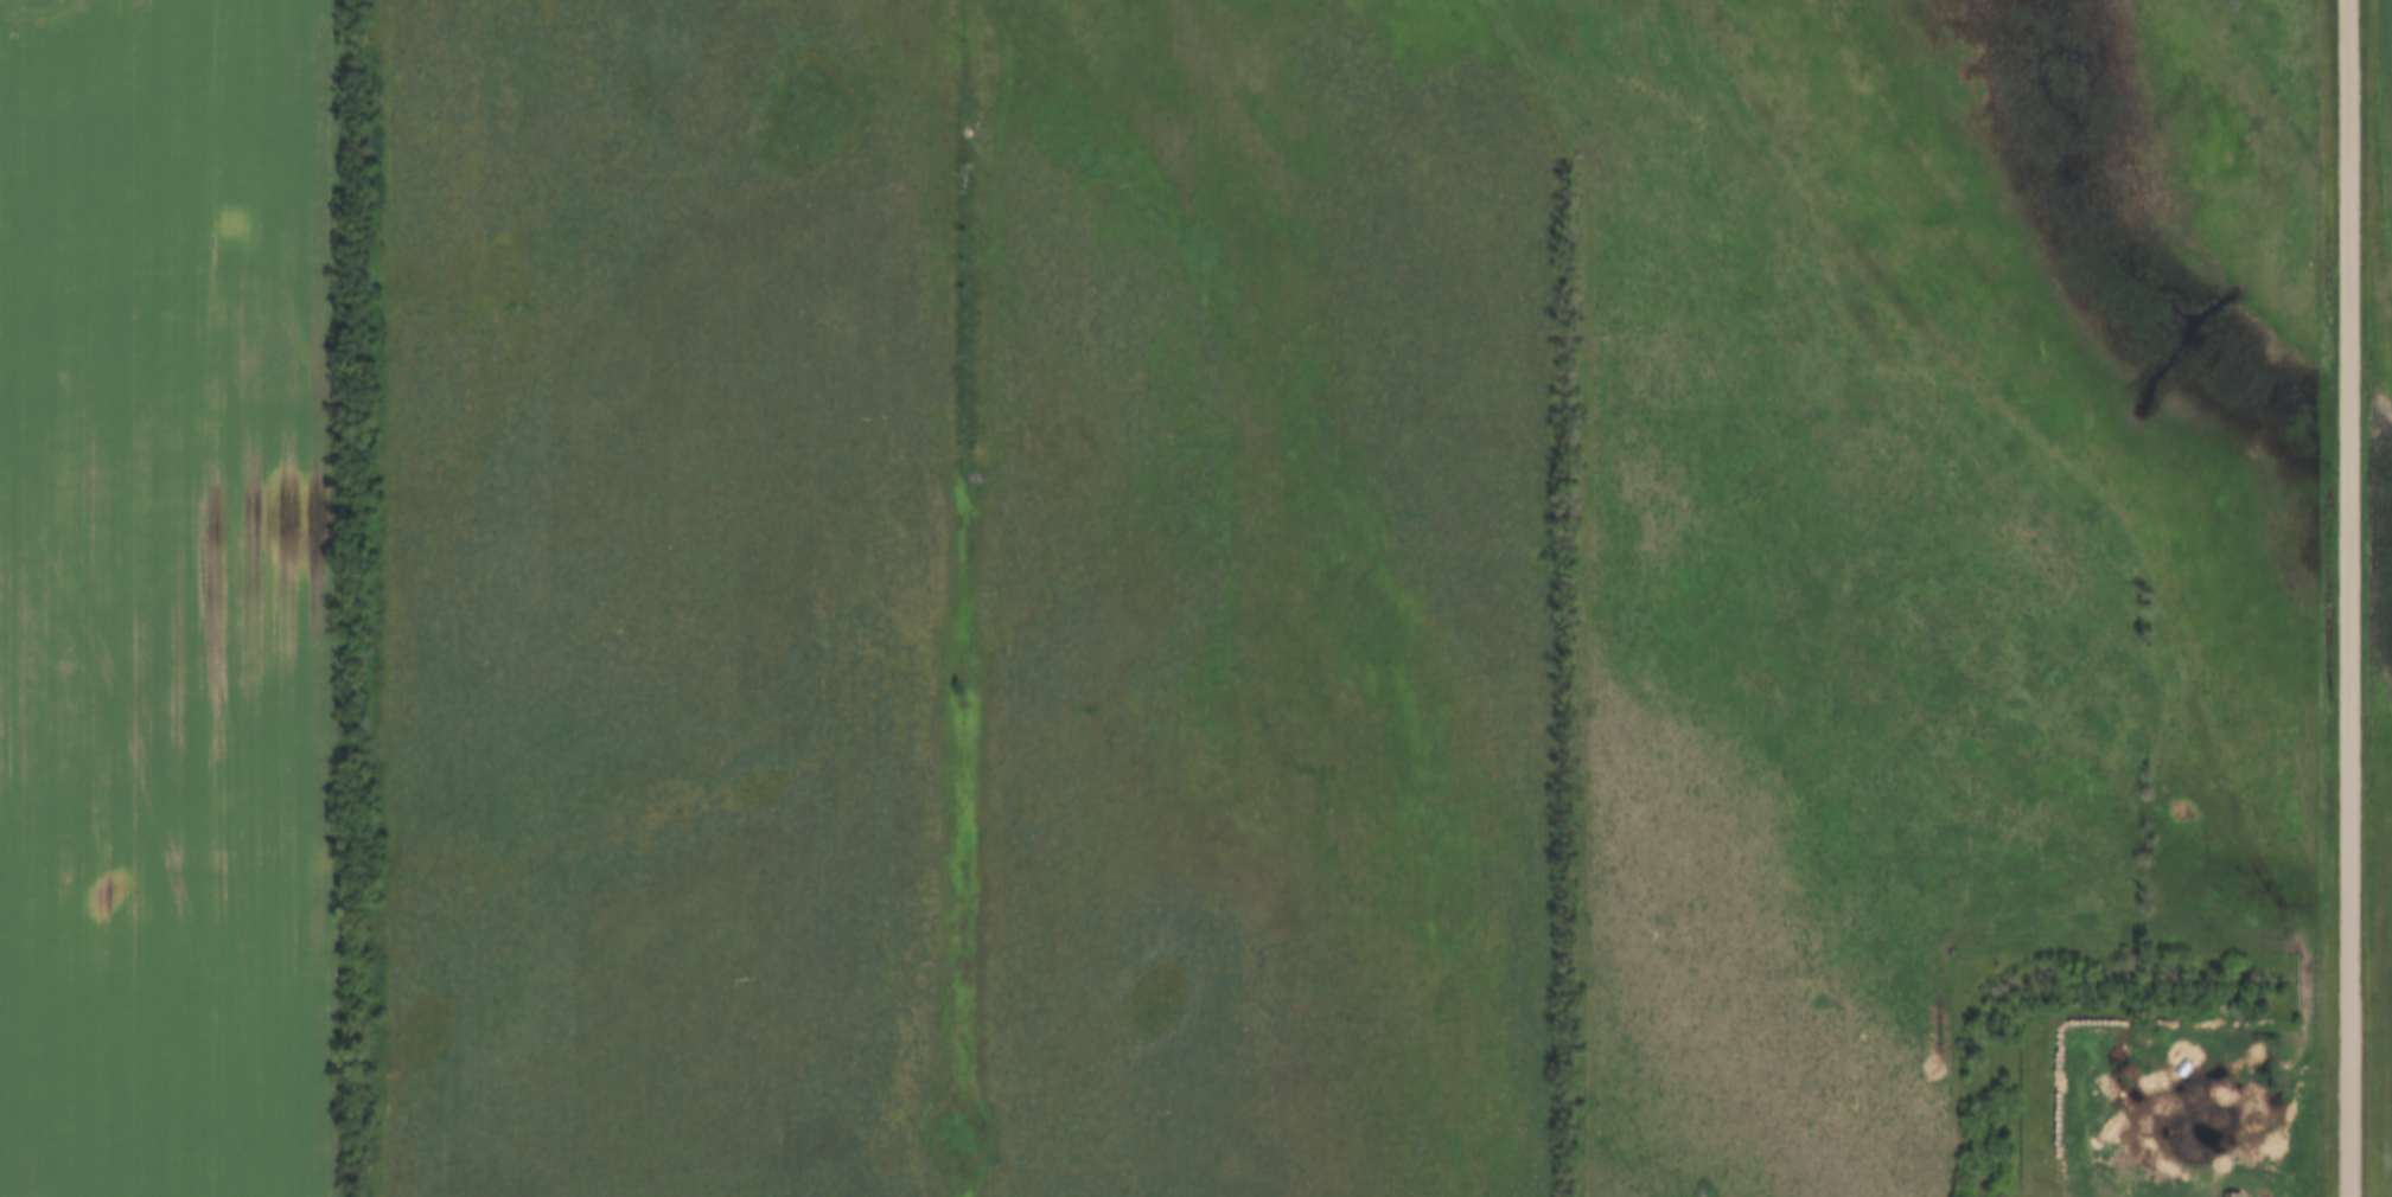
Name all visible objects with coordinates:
road: (2350, 597)
building: (2114, 1054)
building: (2233, 1195)

